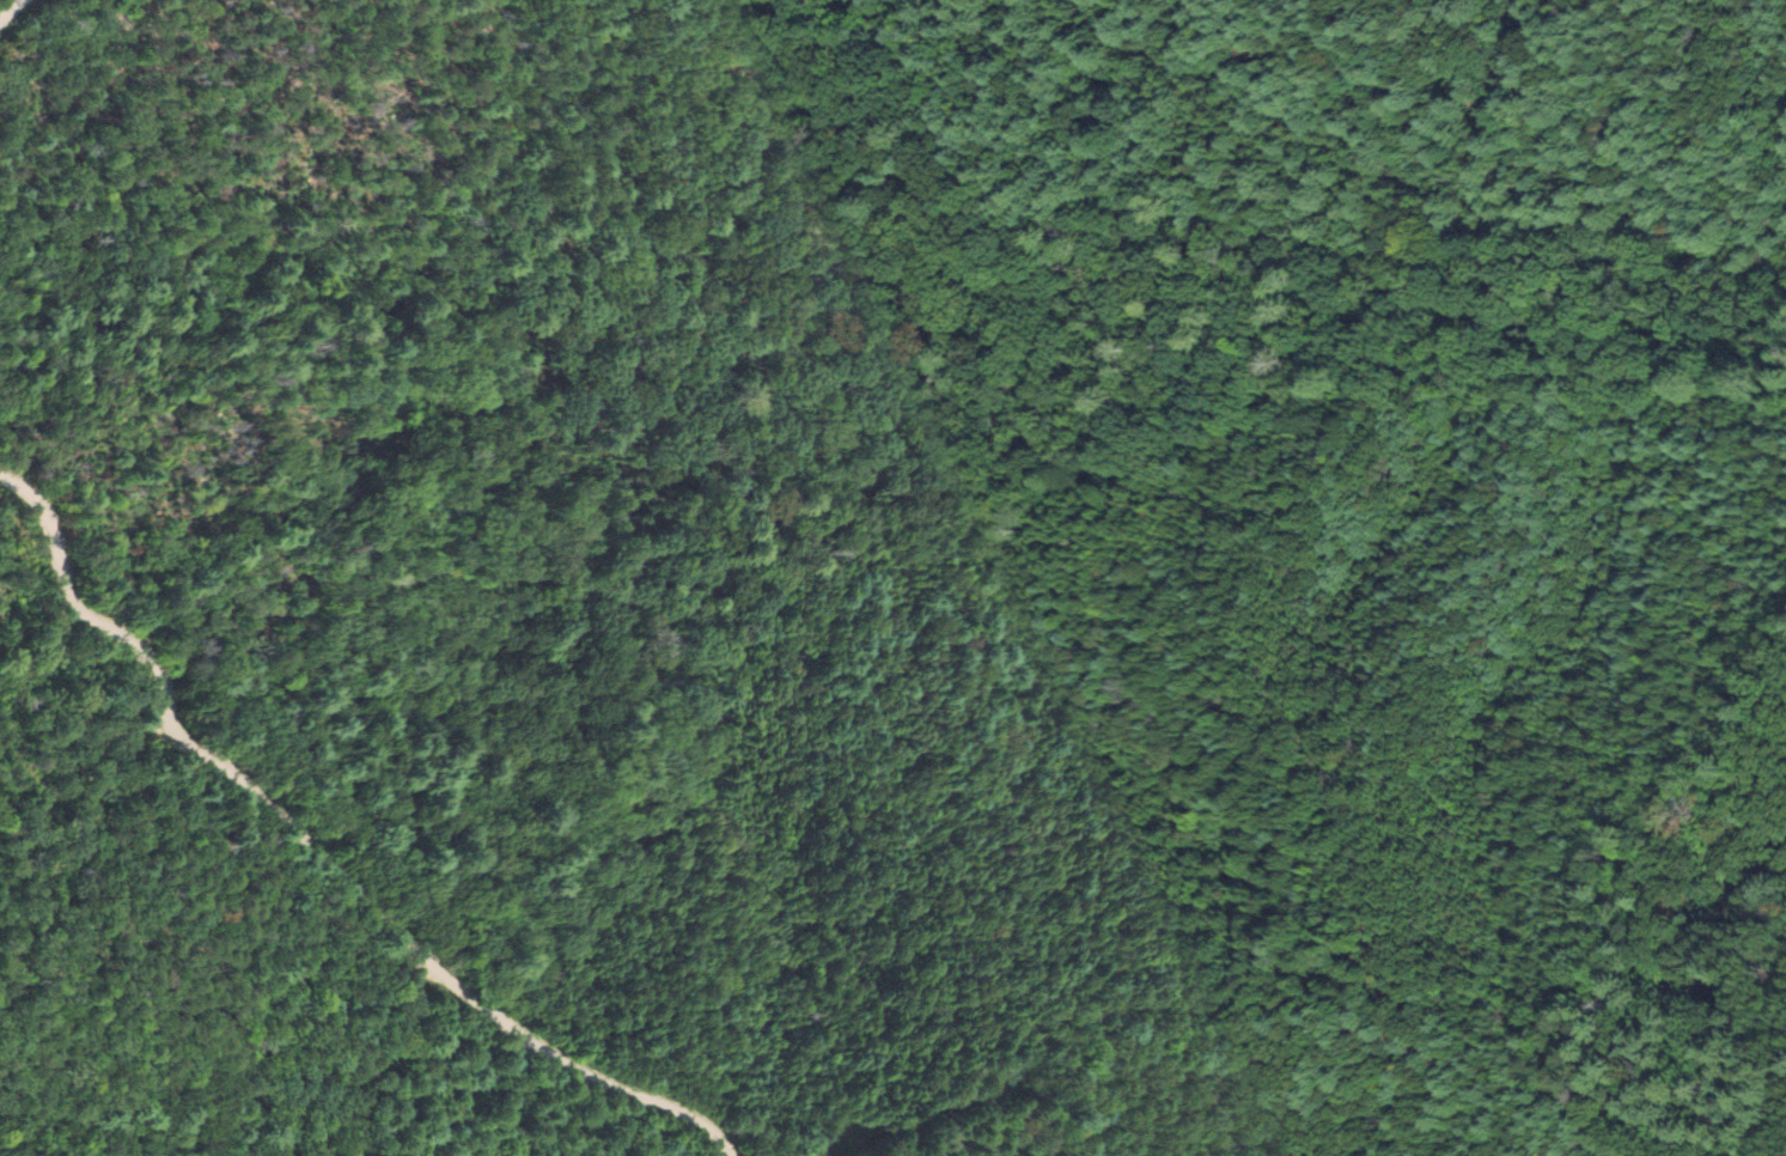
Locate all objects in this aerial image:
road: (13, 17)
road: (321, 852)

